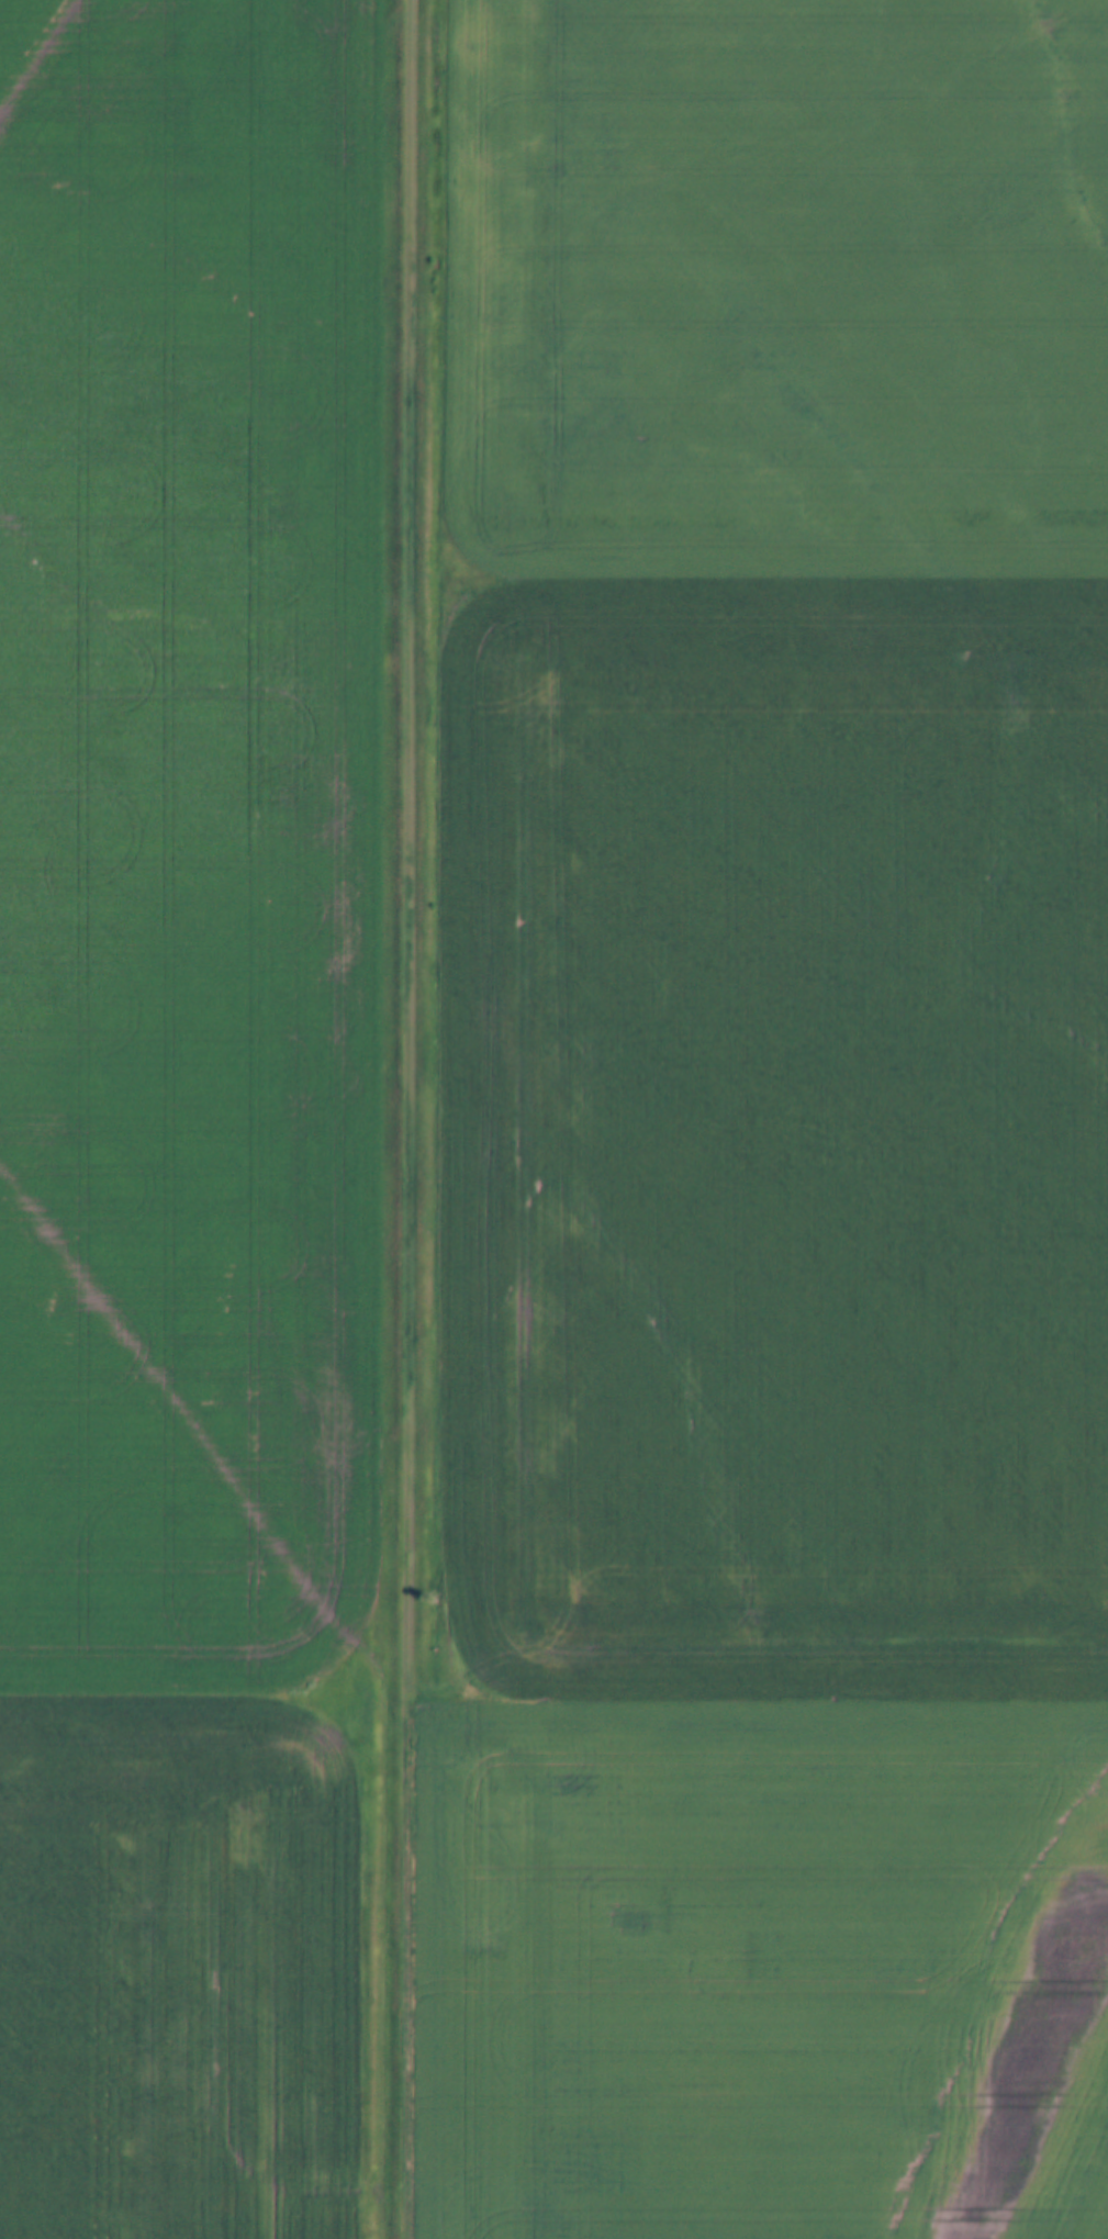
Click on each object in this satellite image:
crop: (184, 838)
road: (404, 1119)

